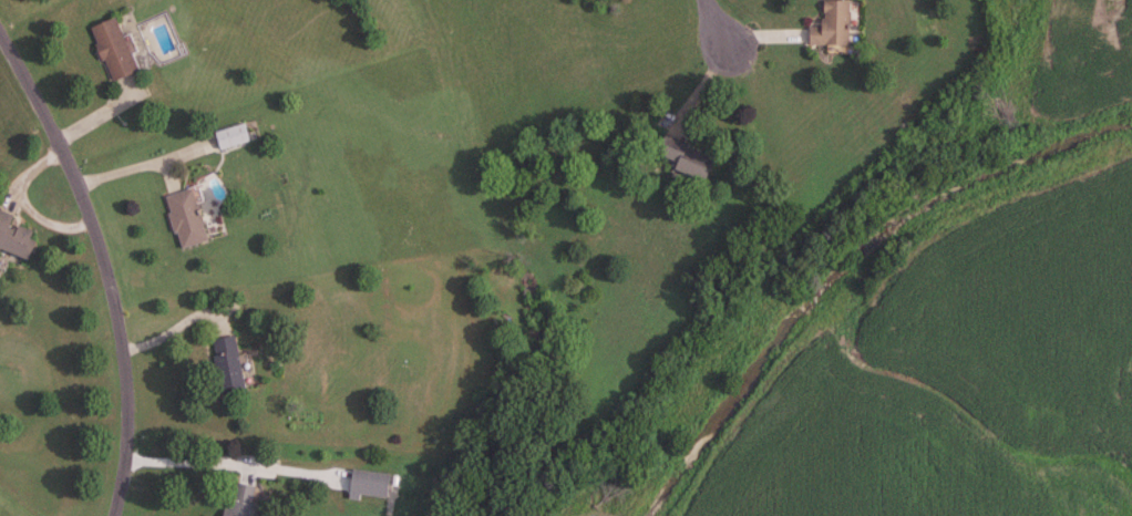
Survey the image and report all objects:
road: (717, 24)
building: (832, 27)
building: (114, 50)
building: (231, 137)
building: (686, 159)
building: (186, 219)
building: (16, 237)
river: (847, 264)
road: (103, 266)
building: (228, 365)
road: (187, 464)
building: (243, 500)

